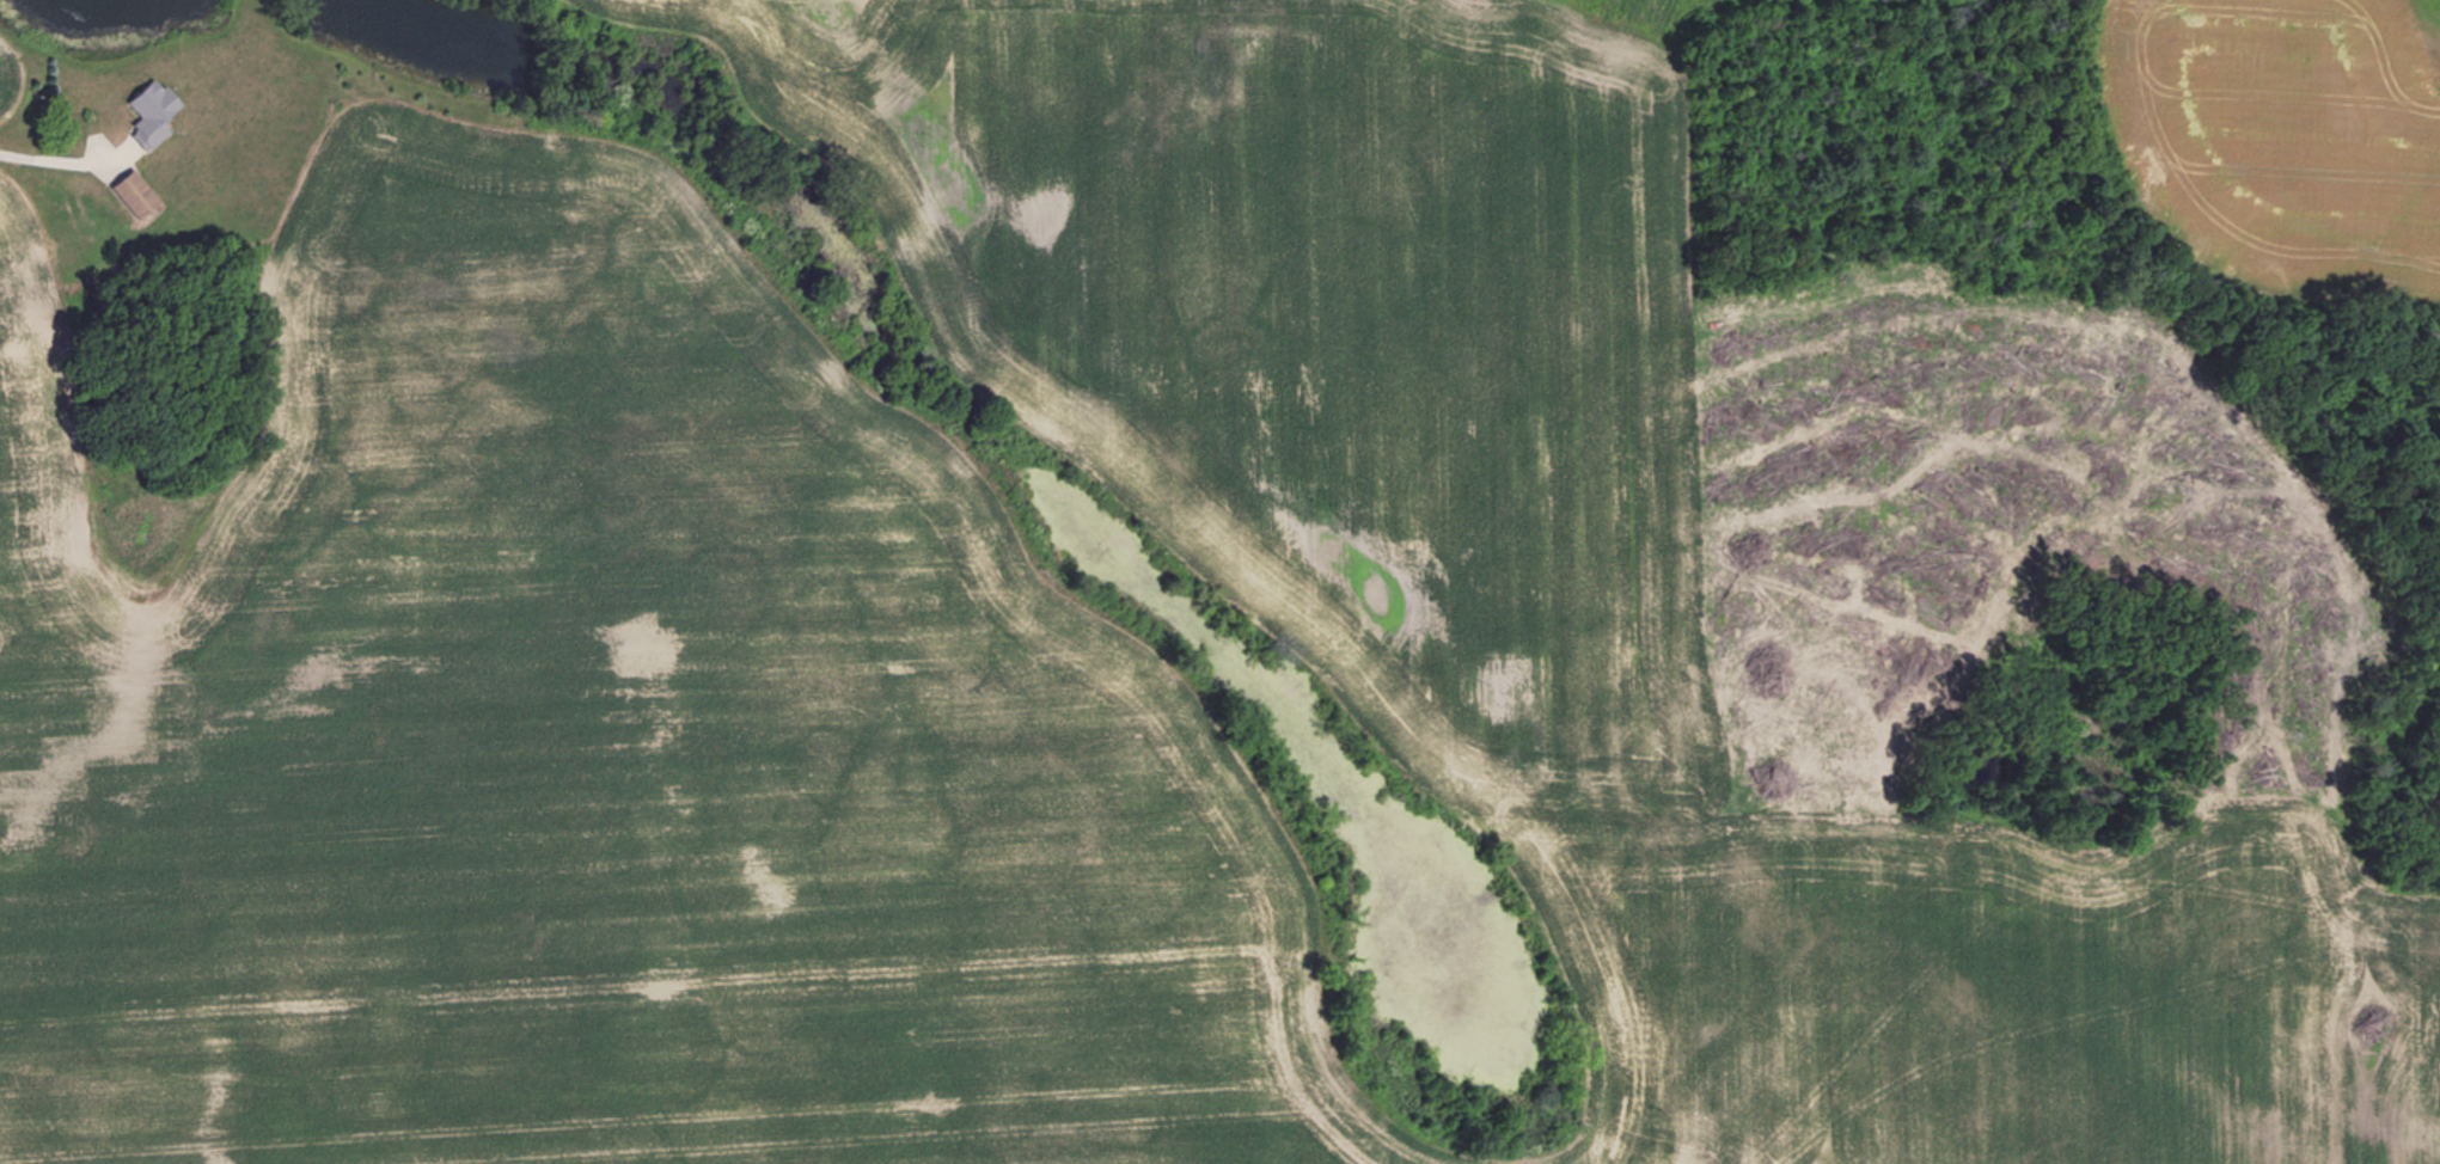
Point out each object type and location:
road: (60, 158)

